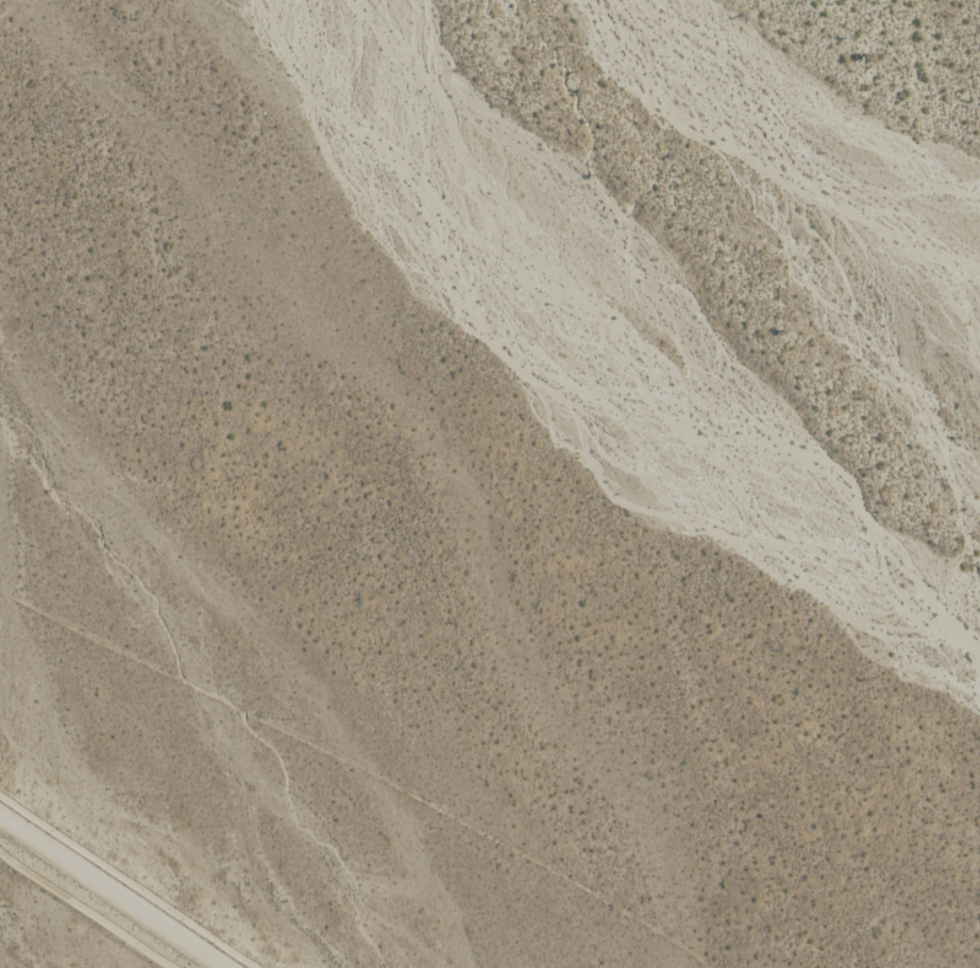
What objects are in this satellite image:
road: (114, 889)

